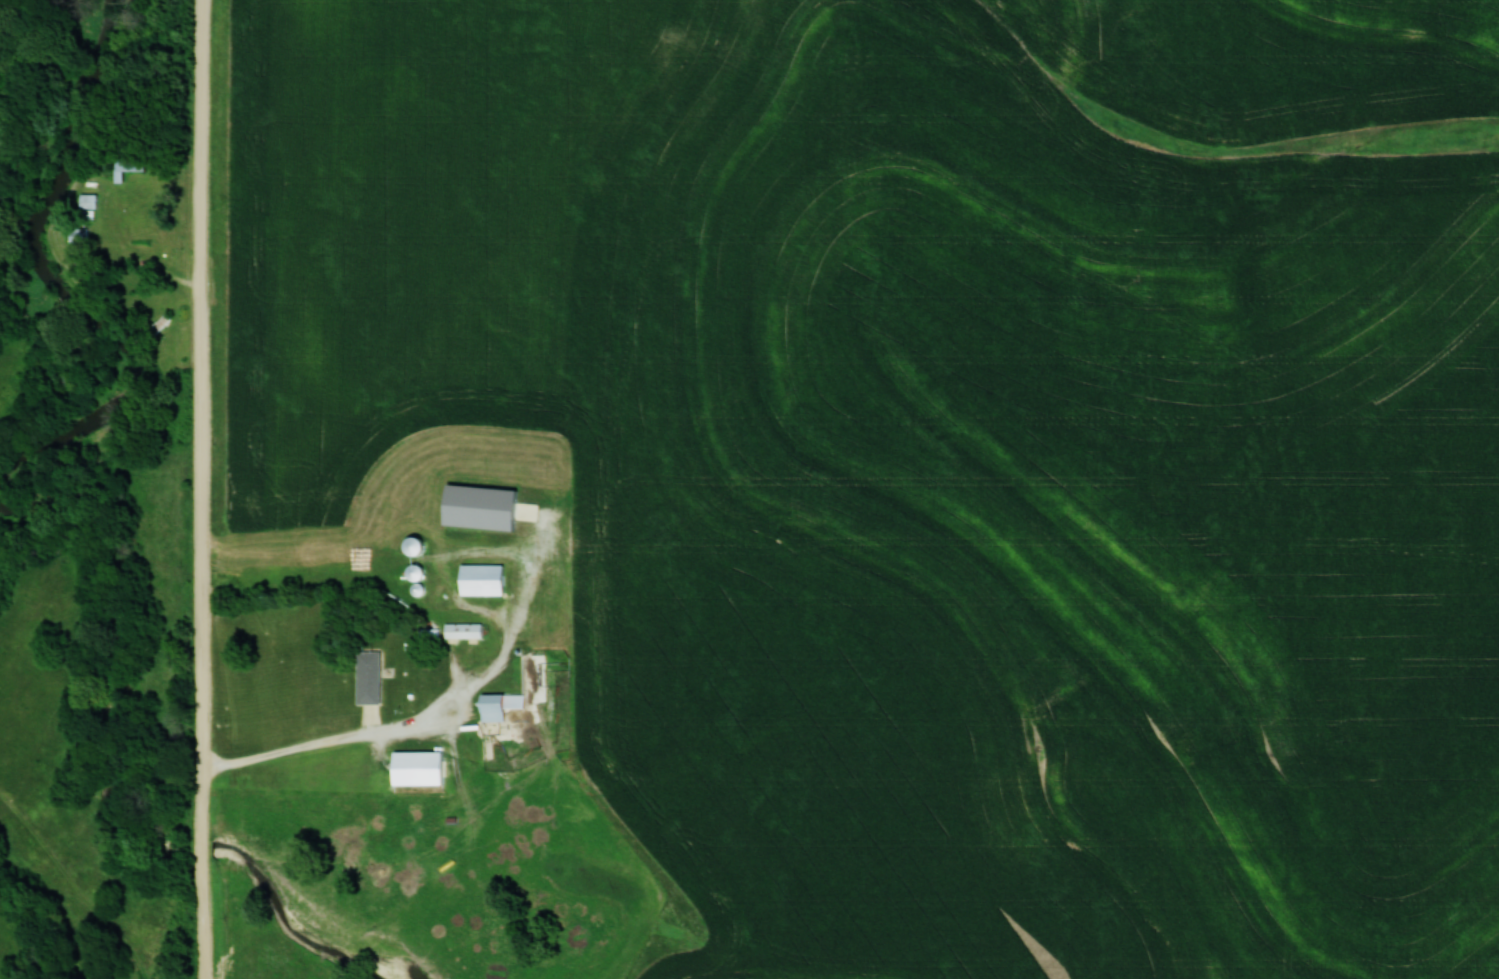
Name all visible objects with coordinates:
park: (103, 76)
road: (206, 77)
building: (131, 167)
building: (164, 322)
building: (475, 507)
building: (407, 546)
road: (204, 567)
building: (409, 573)
building: (478, 579)
building: (460, 630)
building: (365, 676)
building: (494, 705)
road: (468, 711)
road: (315, 748)
building: (412, 767)

